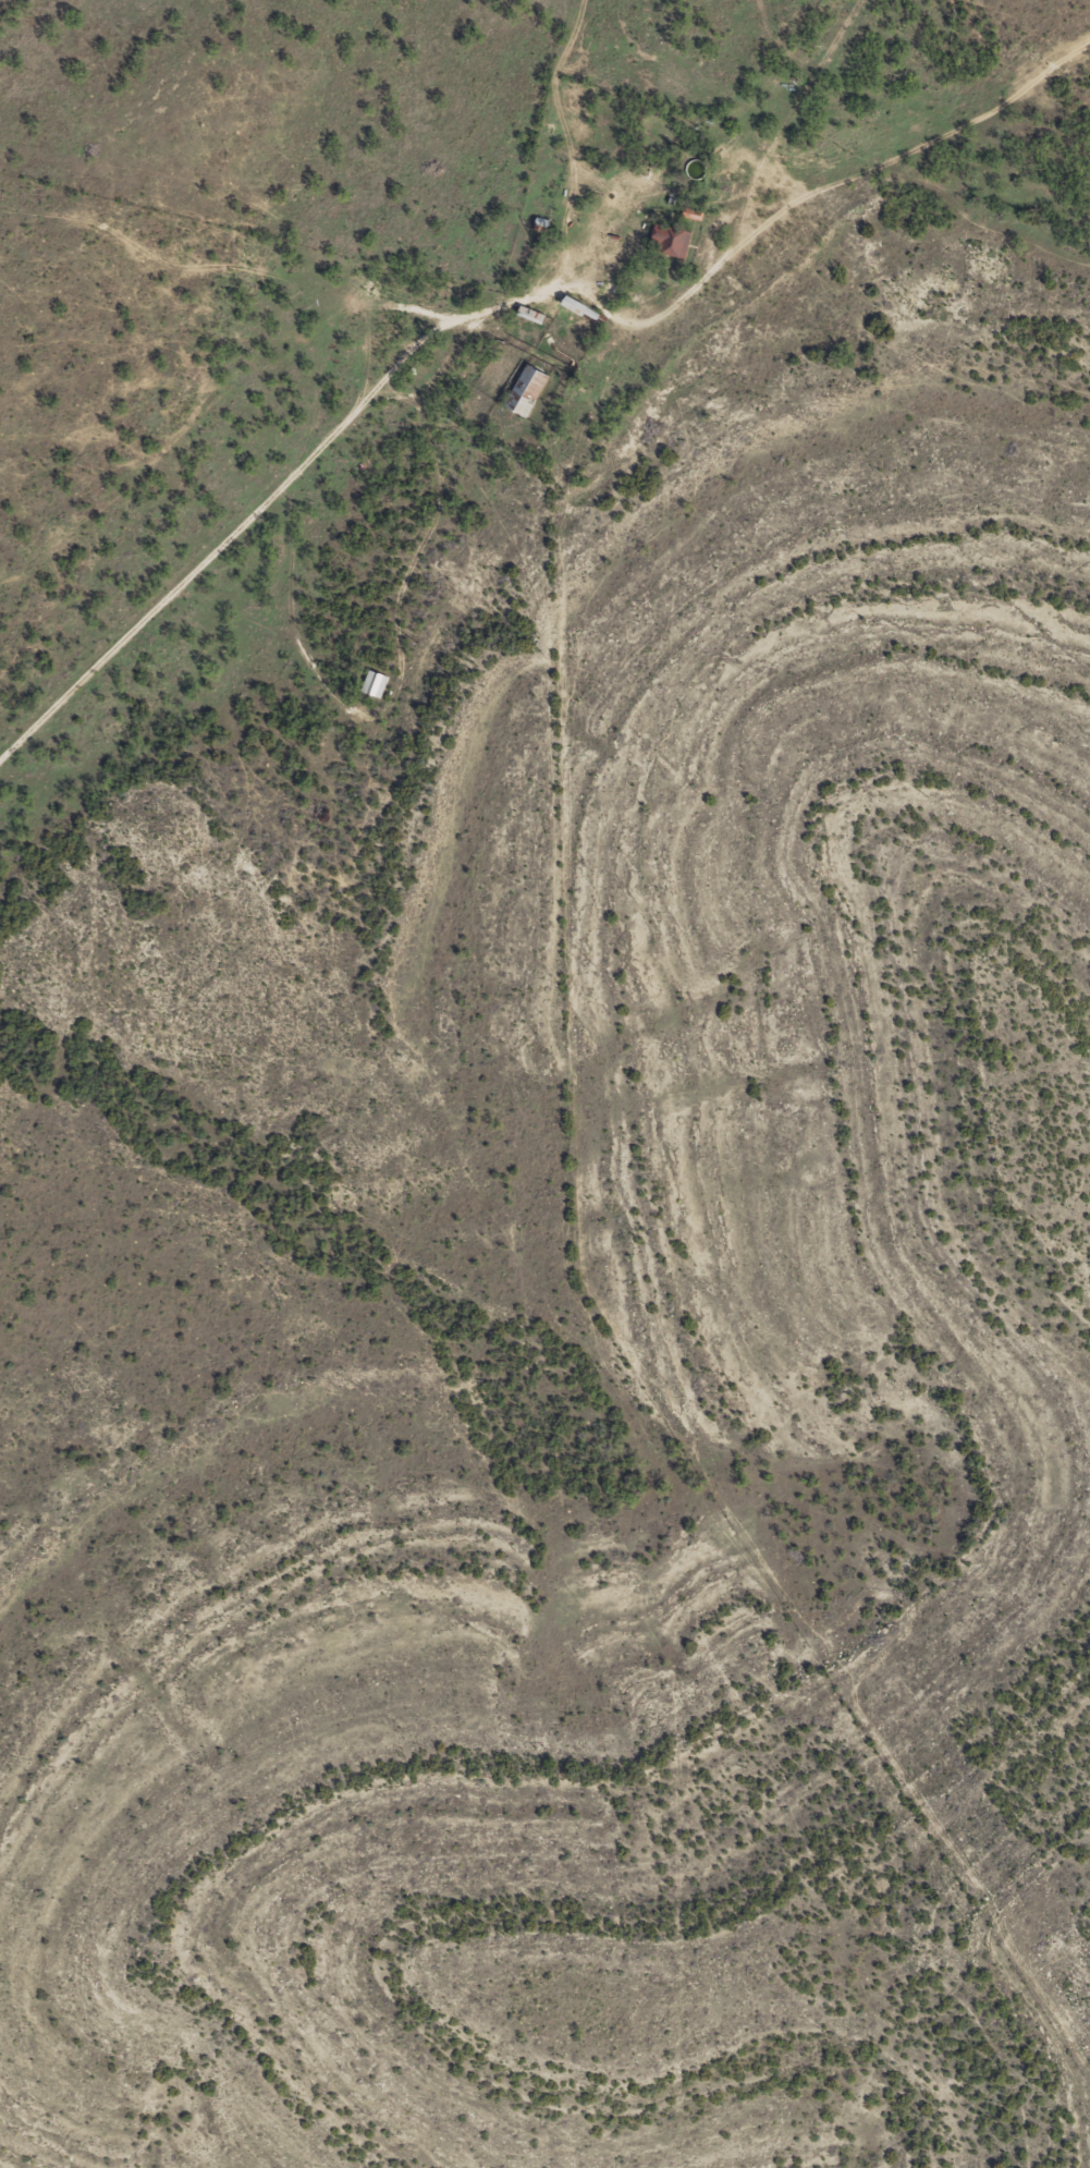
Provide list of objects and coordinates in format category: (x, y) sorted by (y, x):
road: (962, 75)
road: (554, 137)
building: (670, 242)
road: (437, 361)
building: (525, 390)

